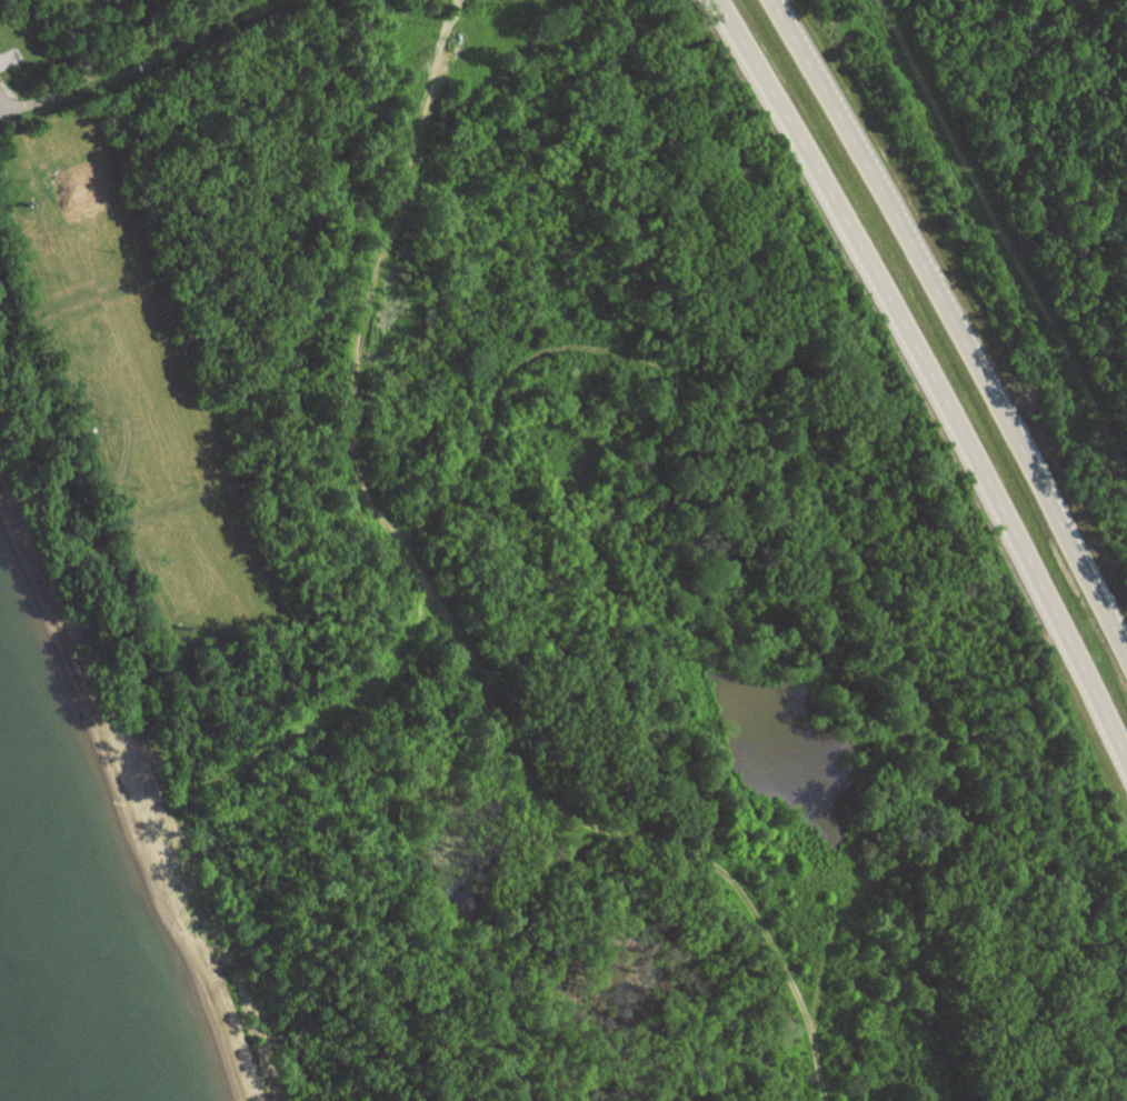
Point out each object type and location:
road: (998, 238)
road: (954, 320)
road: (931, 378)

